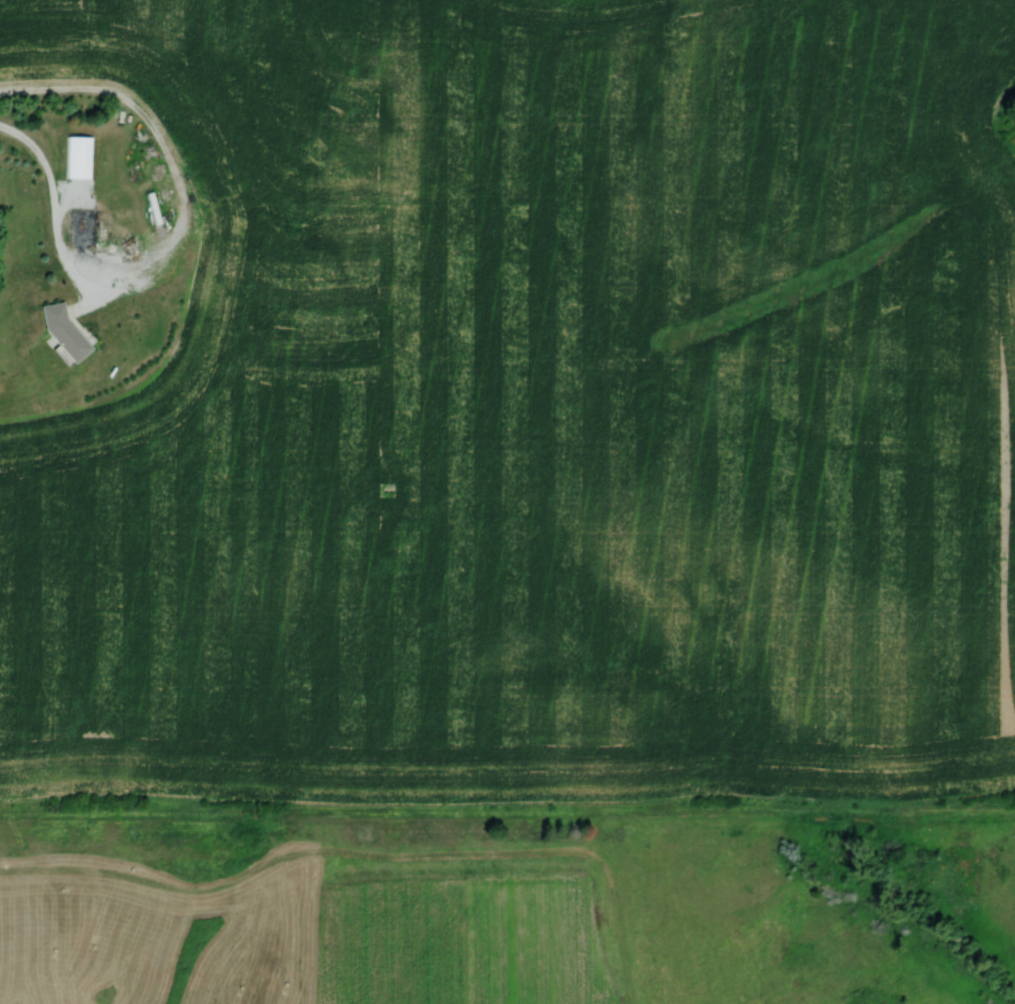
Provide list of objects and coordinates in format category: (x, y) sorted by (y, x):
road: (43, 164)
building: (84, 227)

